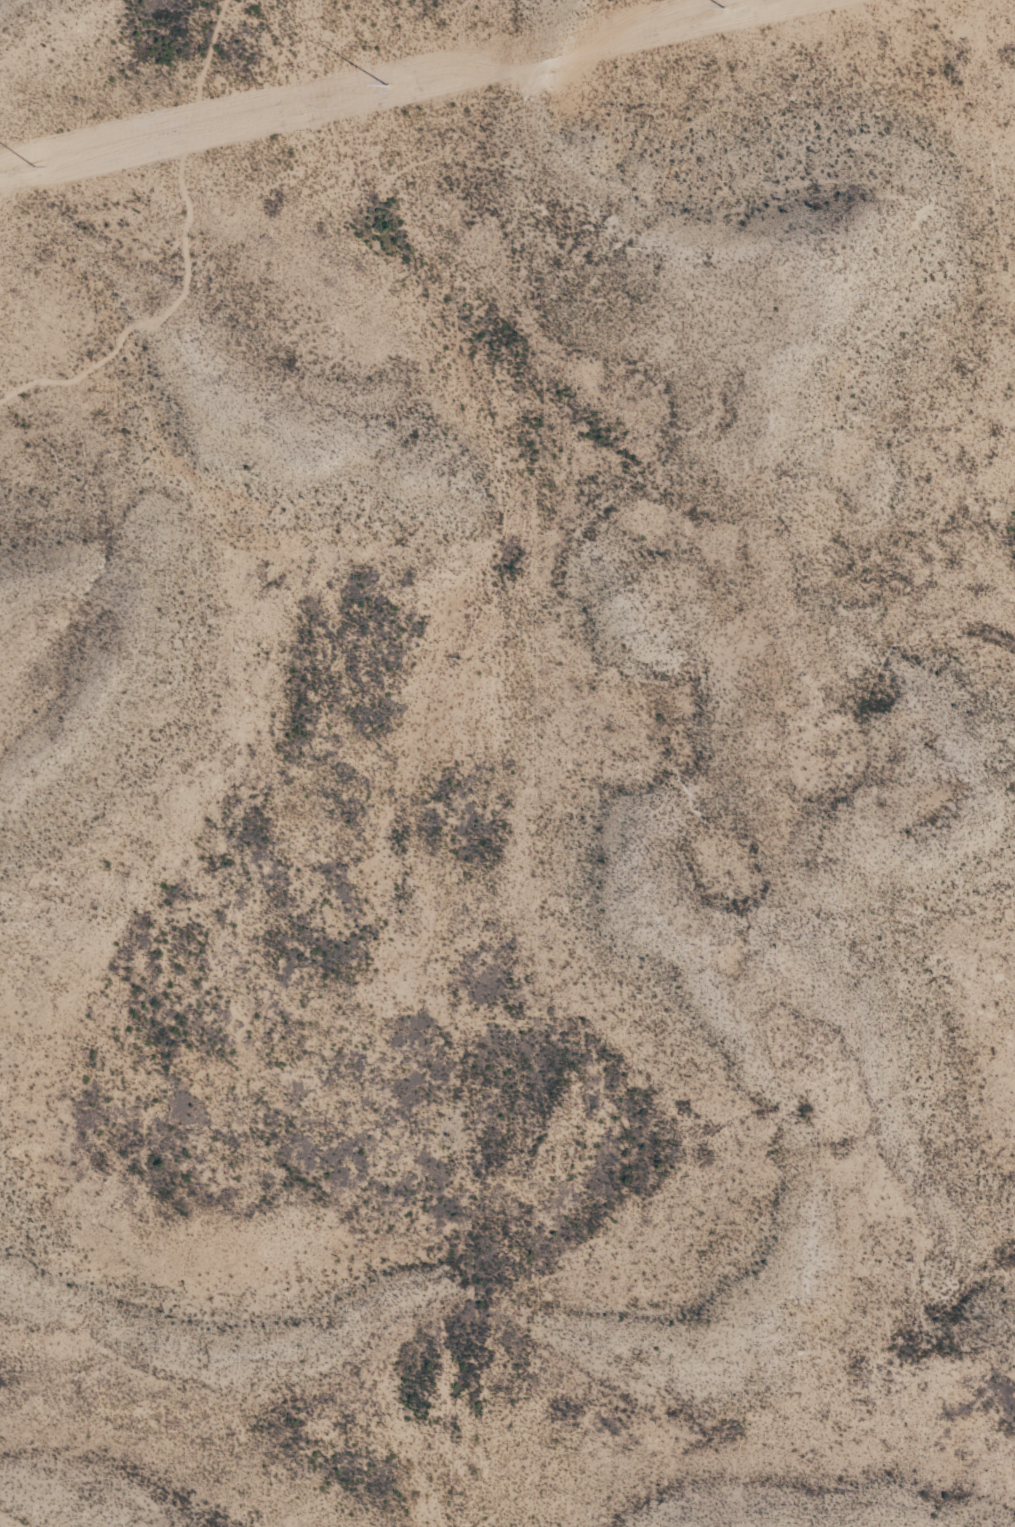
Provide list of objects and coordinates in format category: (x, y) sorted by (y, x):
power tower: (727, 8)
power tower: (388, 86)
power tower: (34, 168)

